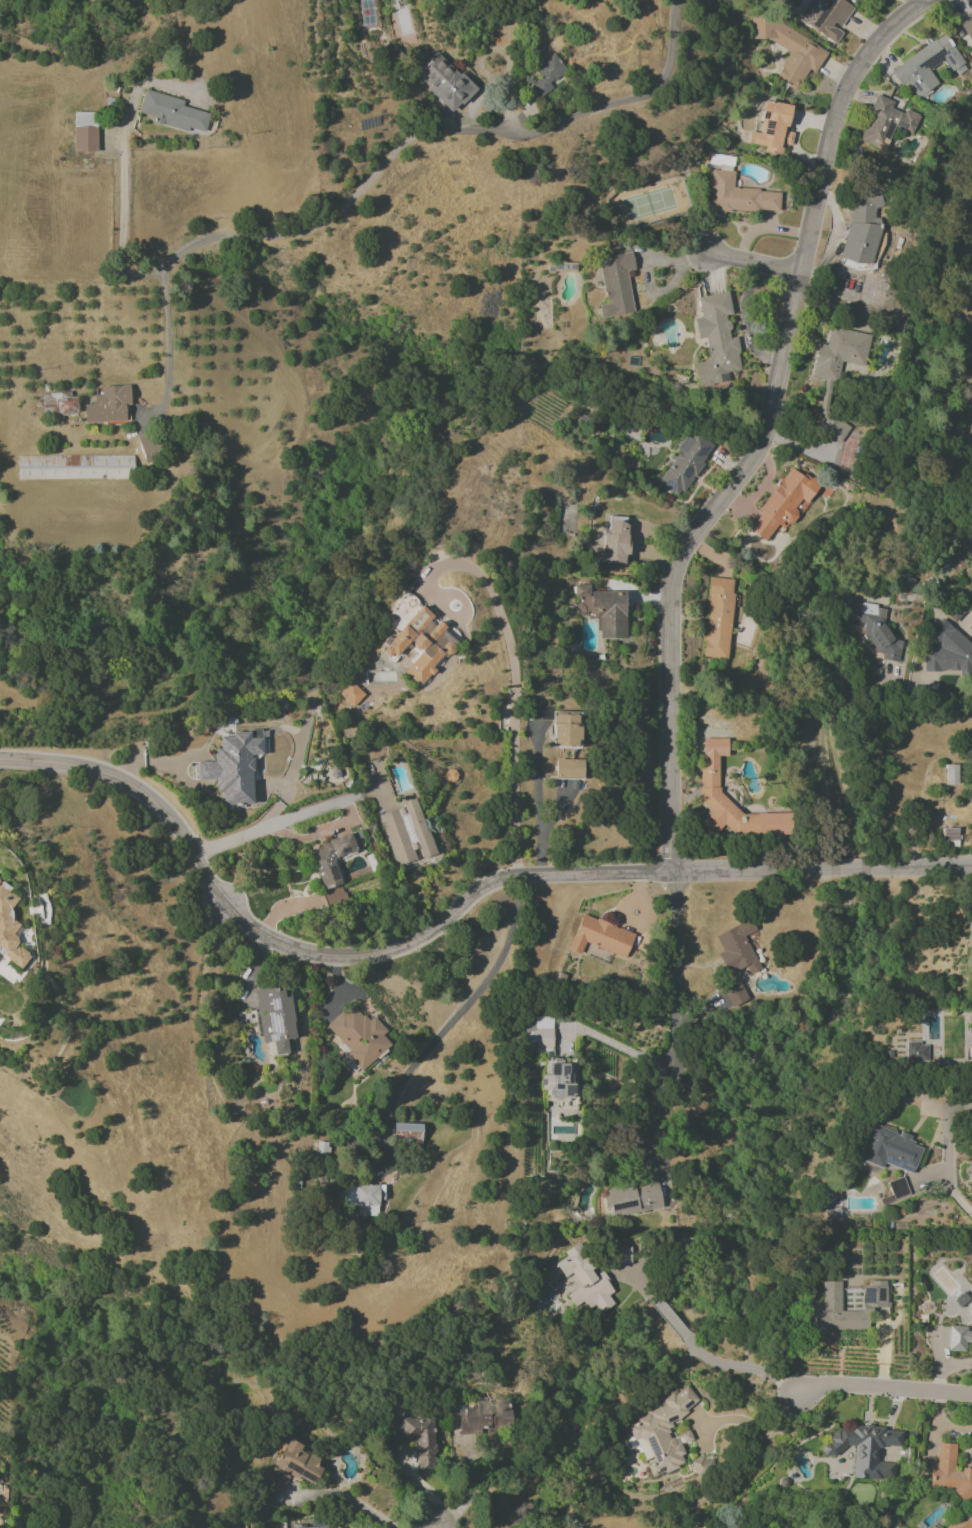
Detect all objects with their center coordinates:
building: (826, 17)
building: (967, 24)
building: (789, 50)
road: (506, 58)
building: (926, 65)
building: (549, 72)
building: (447, 82)
building: (171, 112)
building: (885, 121)
building: (772, 128)
building: (84, 132)
road: (368, 181)
building: (739, 195)
building: (860, 230)
road: (751, 263)
road: (645, 271)
building: (616, 285)
road: (747, 319)
building: (715, 340)
road: (166, 351)
building: (838, 355)
building: (58, 403)
building: (109, 405)
building: (833, 428)
road: (766, 429)
building: (149, 446)
building: (684, 463)
building: (75, 467)
building: (782, 503)
building: (614, 541)
building: (582, 590)
building: (610, 613)
building: (955, 613)
building: (718, 618)
building: (874, 629)
building: (420, 643)
building: (948, 651)
road: (511, 672)
building: (351, 694)
road: (932, 697)
building: (565, 729)
building: (234, 765)
road: (295, 766)
building: (569, 769)
building: (950, 774)
building: (708, 782)
road: (362, 793)
road: (537, 801)
road: (271, 823)
building: (406, 833)
building: (949, 834)
building: (331, 858)
road: (820, 867)
building: (10, 928)
building: (600, 936)
building: (737, 949)
road: (306, 954)
road: (673, 970)
building: (734, 993)
road: (466, 1005)
building: (274, 1018)
building: (539, 1034)
building: (358, 1036)
building: (970, 1037)
road: (621, 1048)
building: (916, 1052)
road: (661, 1115)
building: (407, 1132)
building: (889, 1149)
building: (897, 1188)
building: (363, 1196)
road: (954, 1196)
building: (633, 1198)
building: (622, 1255)
road: (633, 1275)
building: (585, 1282)
building: (971, 1310)
road: (669, 1316)
building: (838, 1320)
building: (958, 1339)
road: (740, 1367)
road: (884, 1389)
building: (484, 1416)
road: (754, 1426)
building: (662, 1432)
building: (685, 1437)
building: (415, 1438)
building: (866, 1449)
building: (293, 1466)
building: (952, 1481)
road: (344, 1495)
building: (314, 1527)

